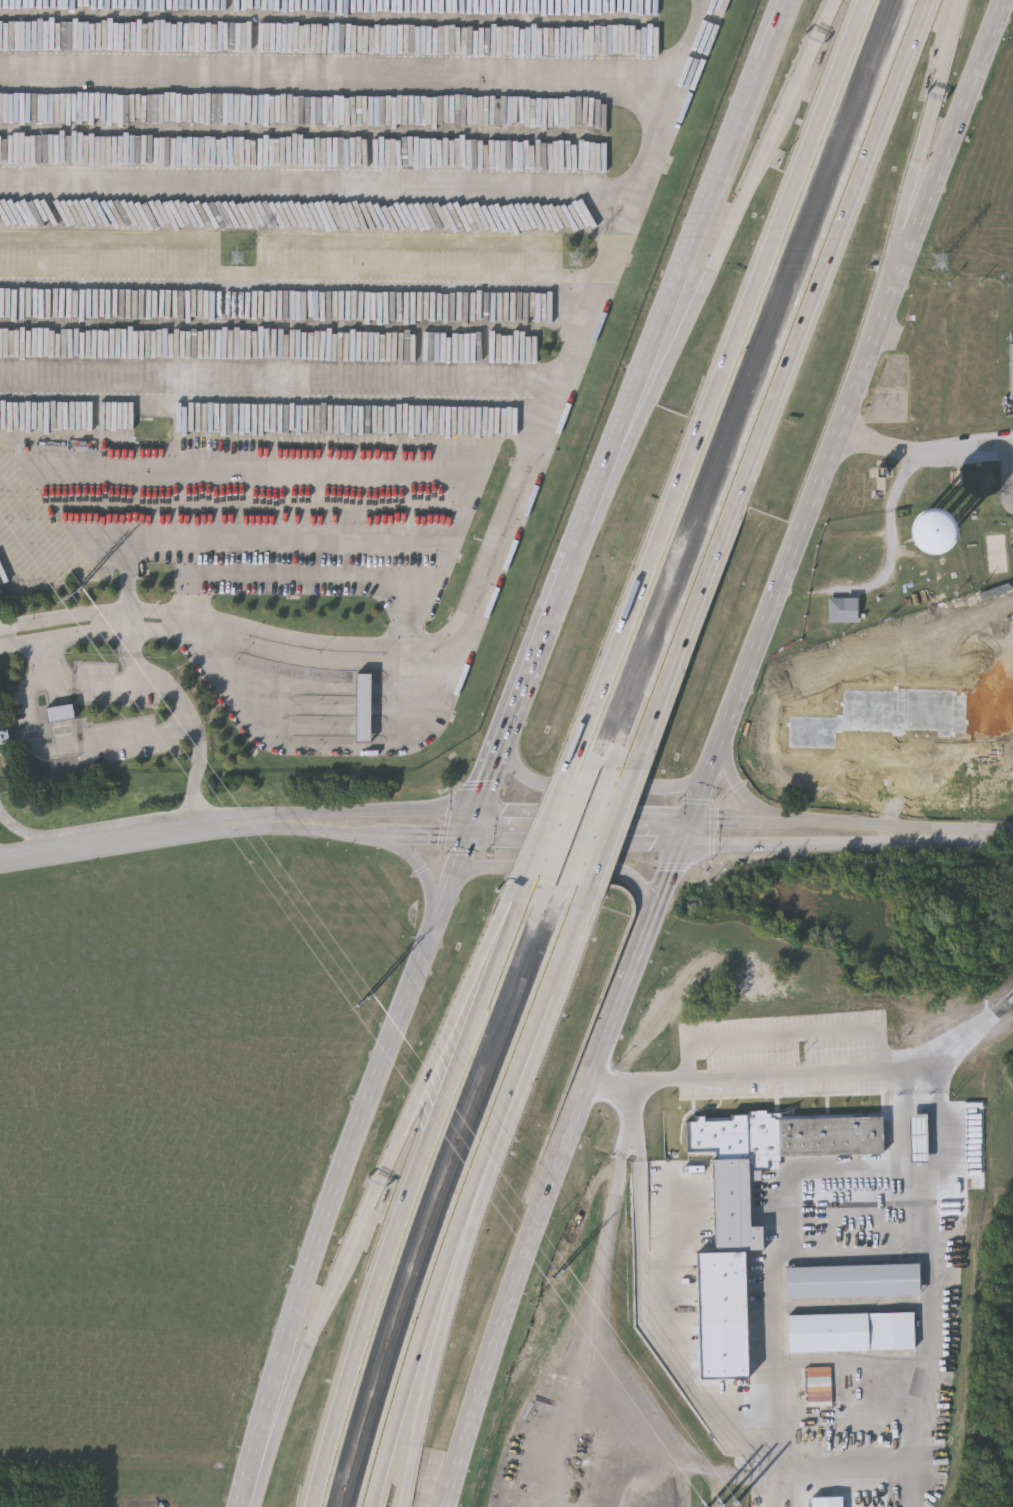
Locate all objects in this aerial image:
building: (710, 24)
road: (925, 141)
road: (725, 241)
power tower: (235, 258)
power tower: (569, 263)
power tower: (938, 266)
road: (679, 283)
road: (297, 291)
building: (1010, 370)
road: (716, 383)
road: (778, 385)
road: (493, 412)
road: (839, 422)
road: (922, 454)
road: (1010, 474)
water tower: (916, 537)
building: (919, 538)
road: (217, 540)
road: (430, 560)
road: (505, 561)
road: (487, 564)
water tower: (888, 572)
road: (194, 577)
power tower: (74, 588)
road: (418, 599)
building: (843, 611)
road: (97, 612)
road: (127, 624)
road: (98, 634)
road: (540, 646)
road: (41, 661)
road: (64, 680)
building: (361, 707)
building: (58, 714)
building: (3, 740)
road: (315, 752)
road: (492, 769)
traffic signals: (488, 781)
road: (587, 785)
road: (479, 786)
road: (738, 787)
road: (731, 790)
road: (590, 798)
road: (697, 800)
road: (379, 811)
traffic signals: (505, 814)
road: (580, 816)
road: (450, 818)
traffic signals: (721, 820)
road: (792, 820)
road: (545, 826)
road: (606, 828)
road: (713, 828)
road: (342, 835)
road: (954, 836)
road: (35, 837)
road: (142, 837)
road: (434, 838)
traffic signals: (441, 838)
road: (573, 841)
traffic signals: (657, 843)
road: (787, 843)
road: (460, 852)
road: (568, 856)
road: (432, 863)
road: (686, 865)
road: (417, 866)
road: (569, 867)
traffic signals: (669, 871)
road: (663, 887)
road: (519, 895)
road: (571, 924)
power tower: (364, 1003)
road: (783, 1031)
road: (516, 1072)
road: (811, 1074)
building: (918, 1131)
road: (346, 1156)
road: (381, 1174)
road: (794, 1176)
building: (731, 1199)
road: (405, 1202)
road: (540, 1217)
road: (859, 1254)
power tower: (557, 1277)
building: (850, 1332)
road: (667, 1333)
road: (940, 1337)
road: (420, 1343)
road: (438, 1344)
road: (908, 1406)
building: (755, 1413)
road: (831, 1450)
building: (914, 1470)
power tower: (722, 1506)

